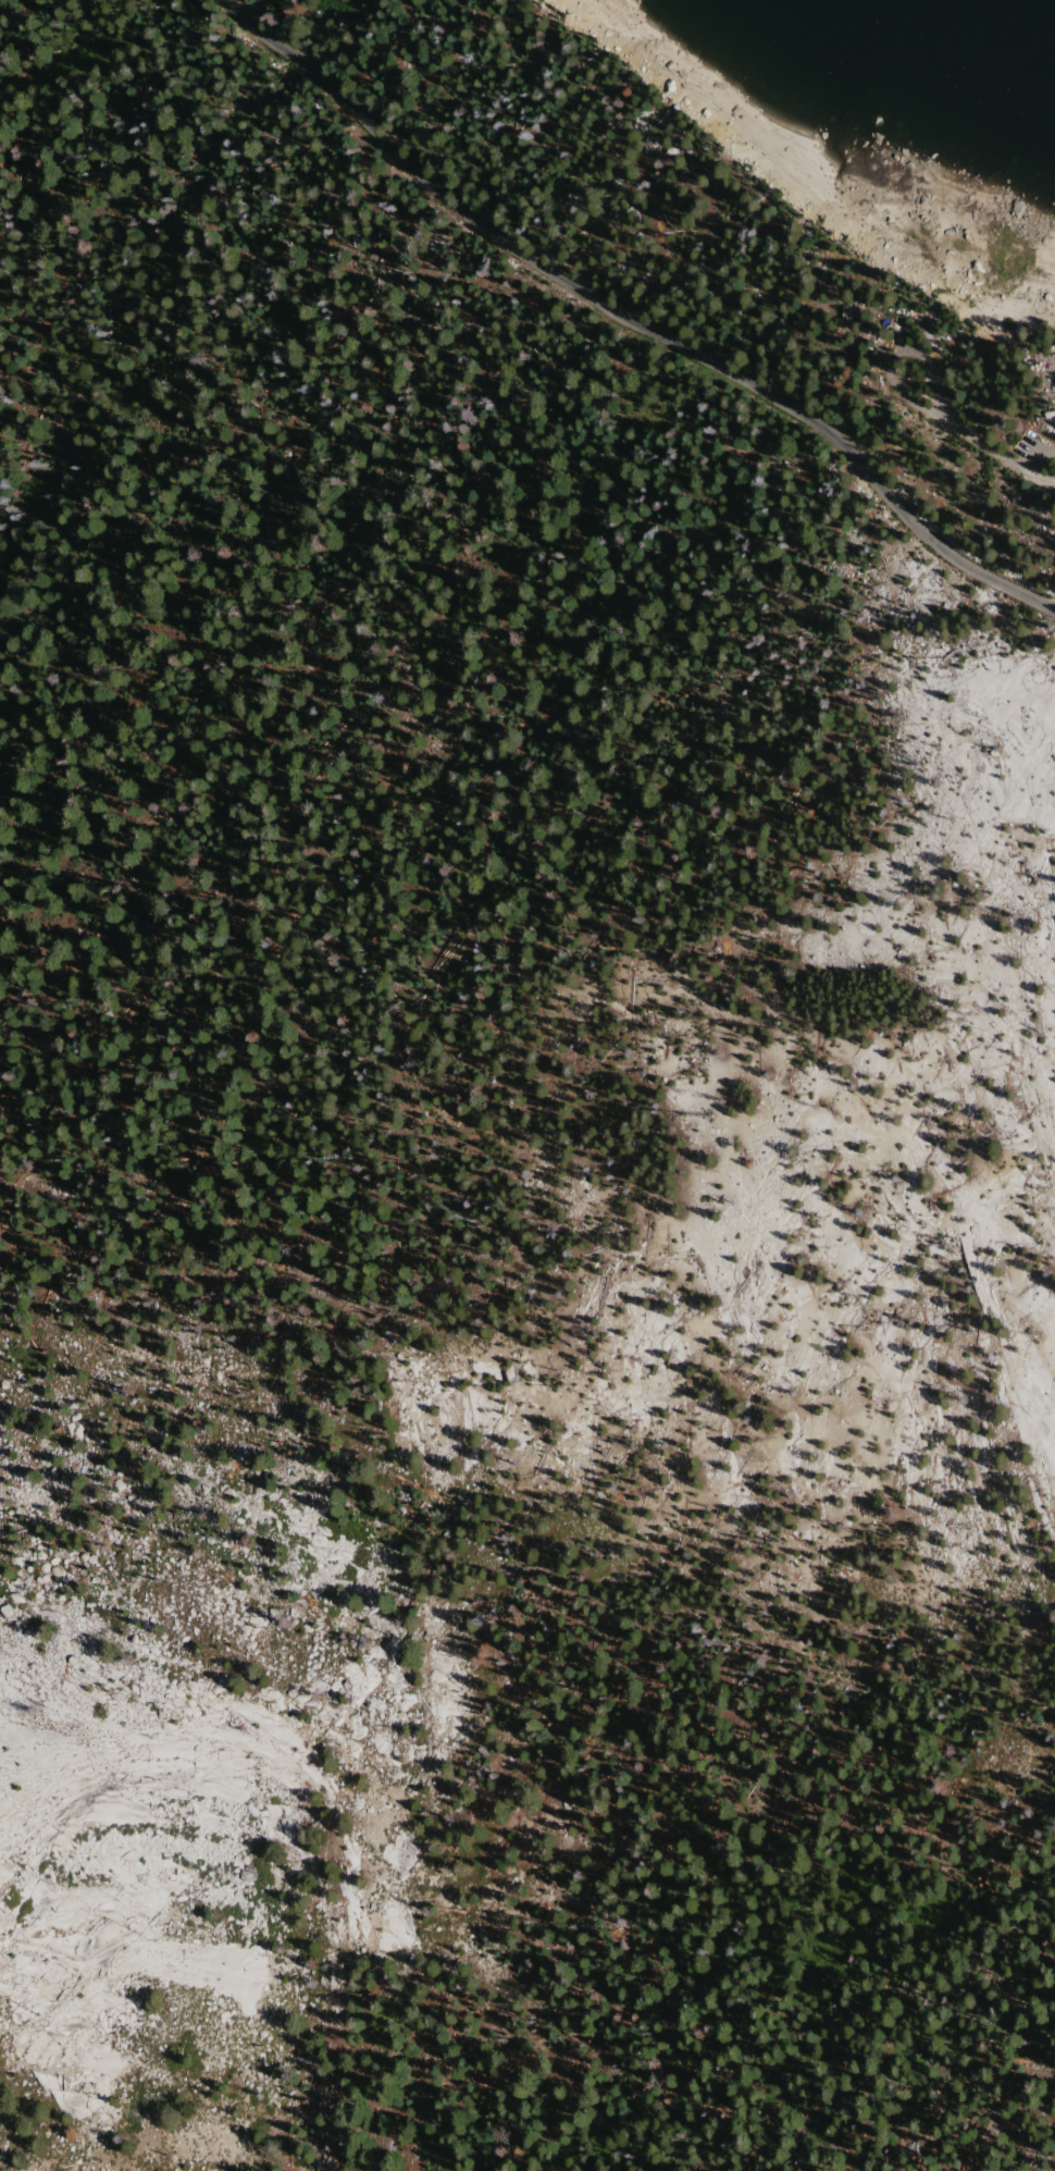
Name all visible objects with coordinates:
road: (631, 323)
road: (893, 358)
parking lot: (1031, 454)
road: (1006, 462)

